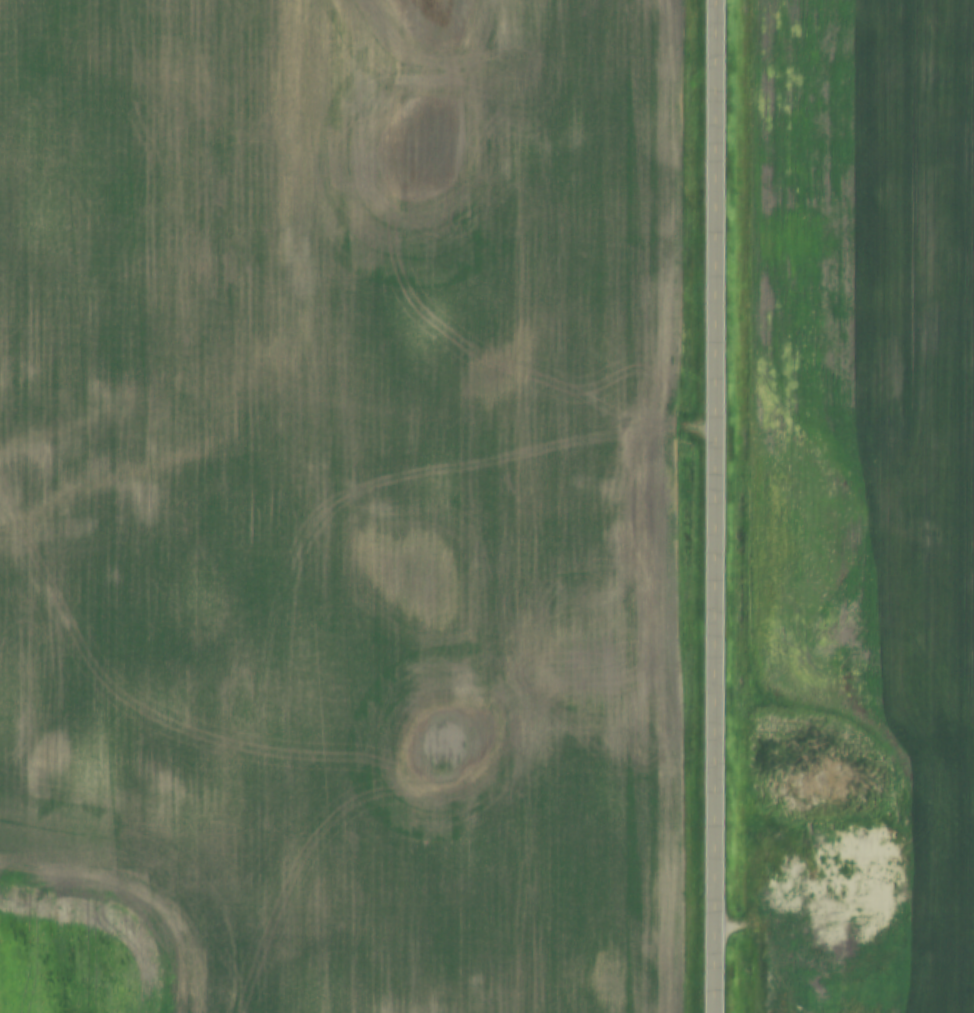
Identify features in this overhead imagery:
road: (723, 506)

